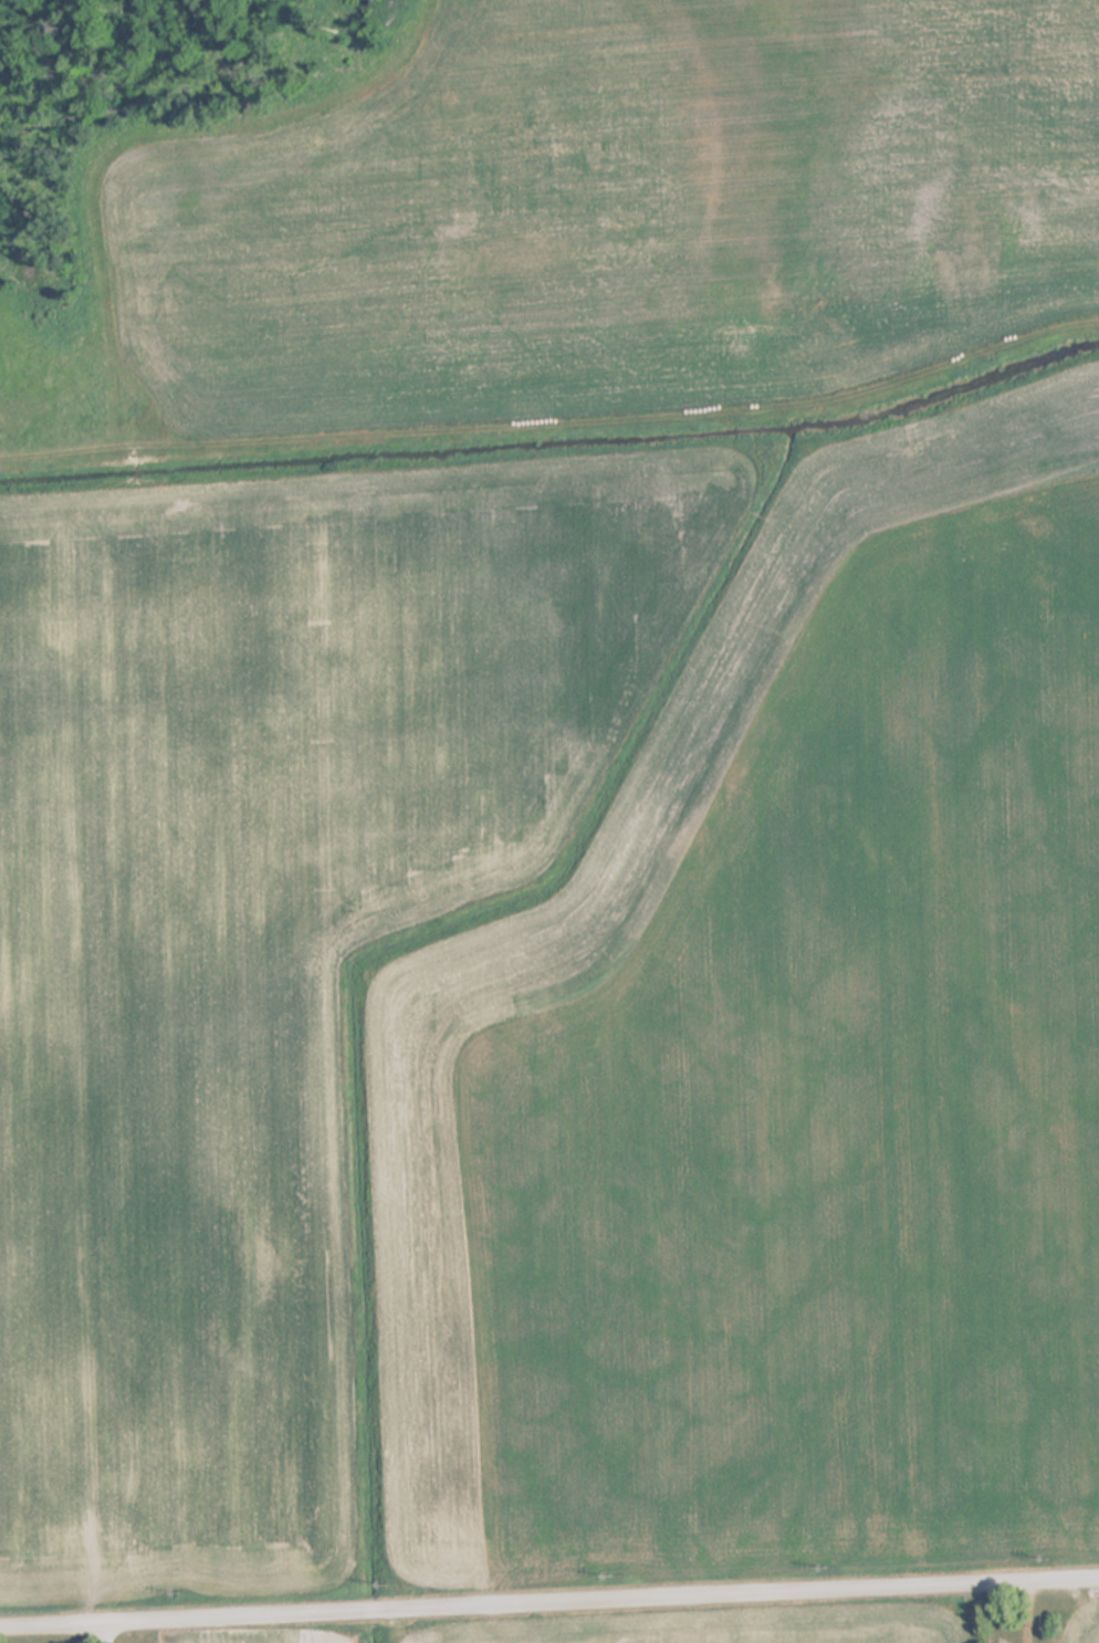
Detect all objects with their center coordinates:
road: (548, 1602)

